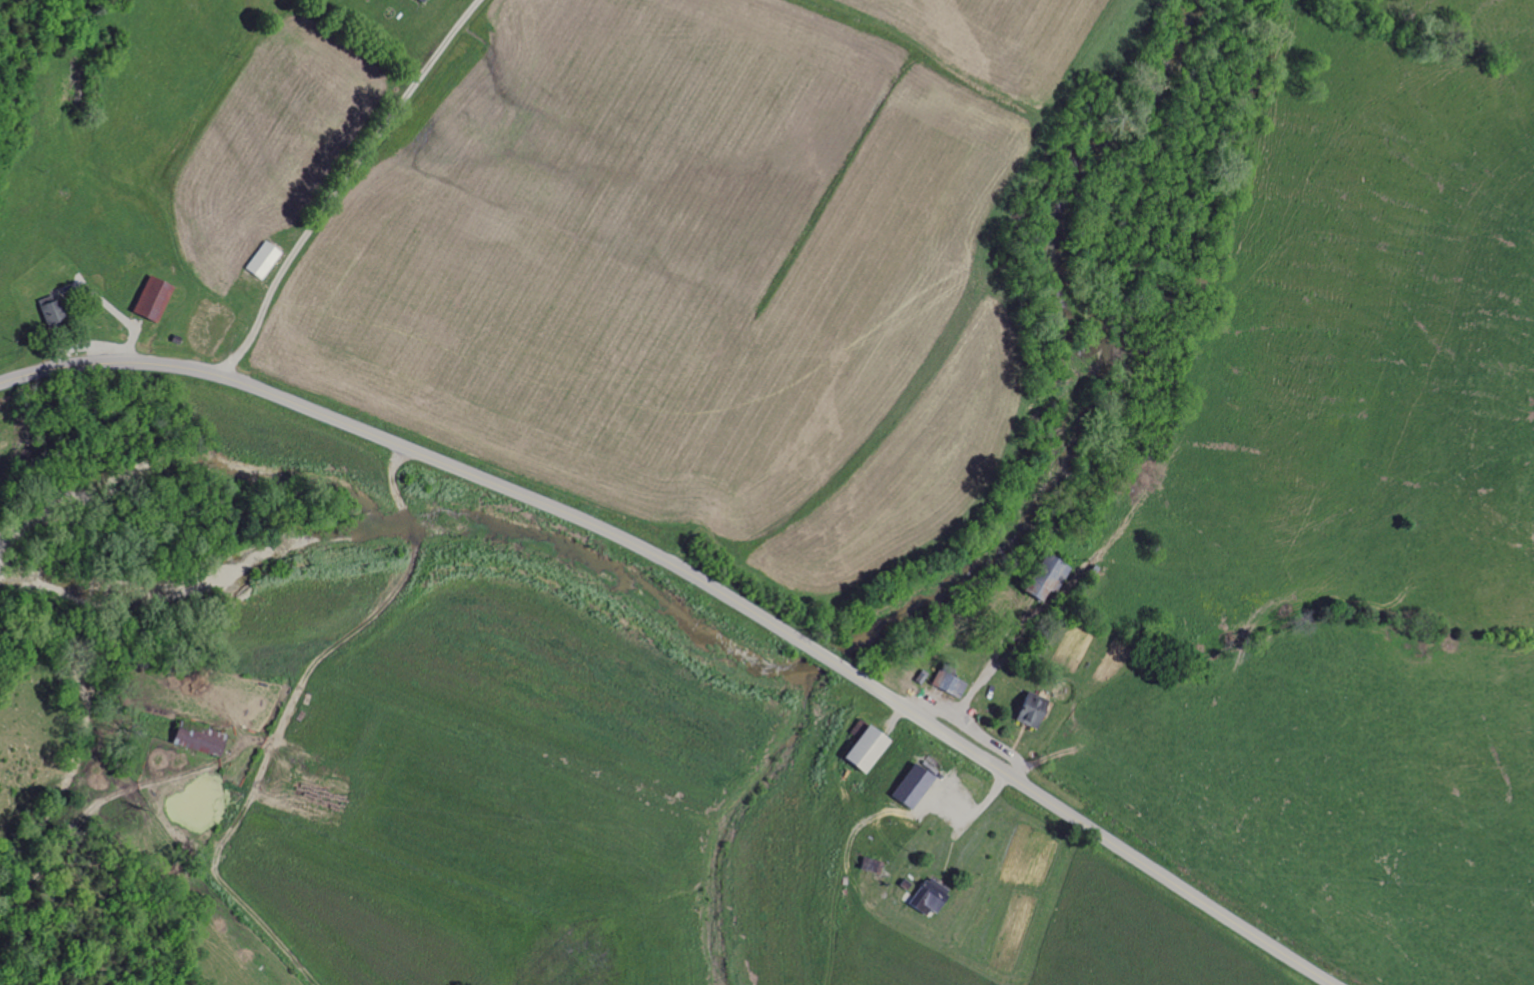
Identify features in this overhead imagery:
building: (419, 1)
road: (344, 185)
building: (260, 260)
building: (149, 299)
building: (49, 312)
road: (424, 528)
building: (1043, 578)
road: (702, 583)
road: (351, 633)
building: (949, 686)
road: (969, 692)
building: (1028, 709)
building: (859, 749)
building: (907, 787)
road: (902, 813)
building: (925, 896)

